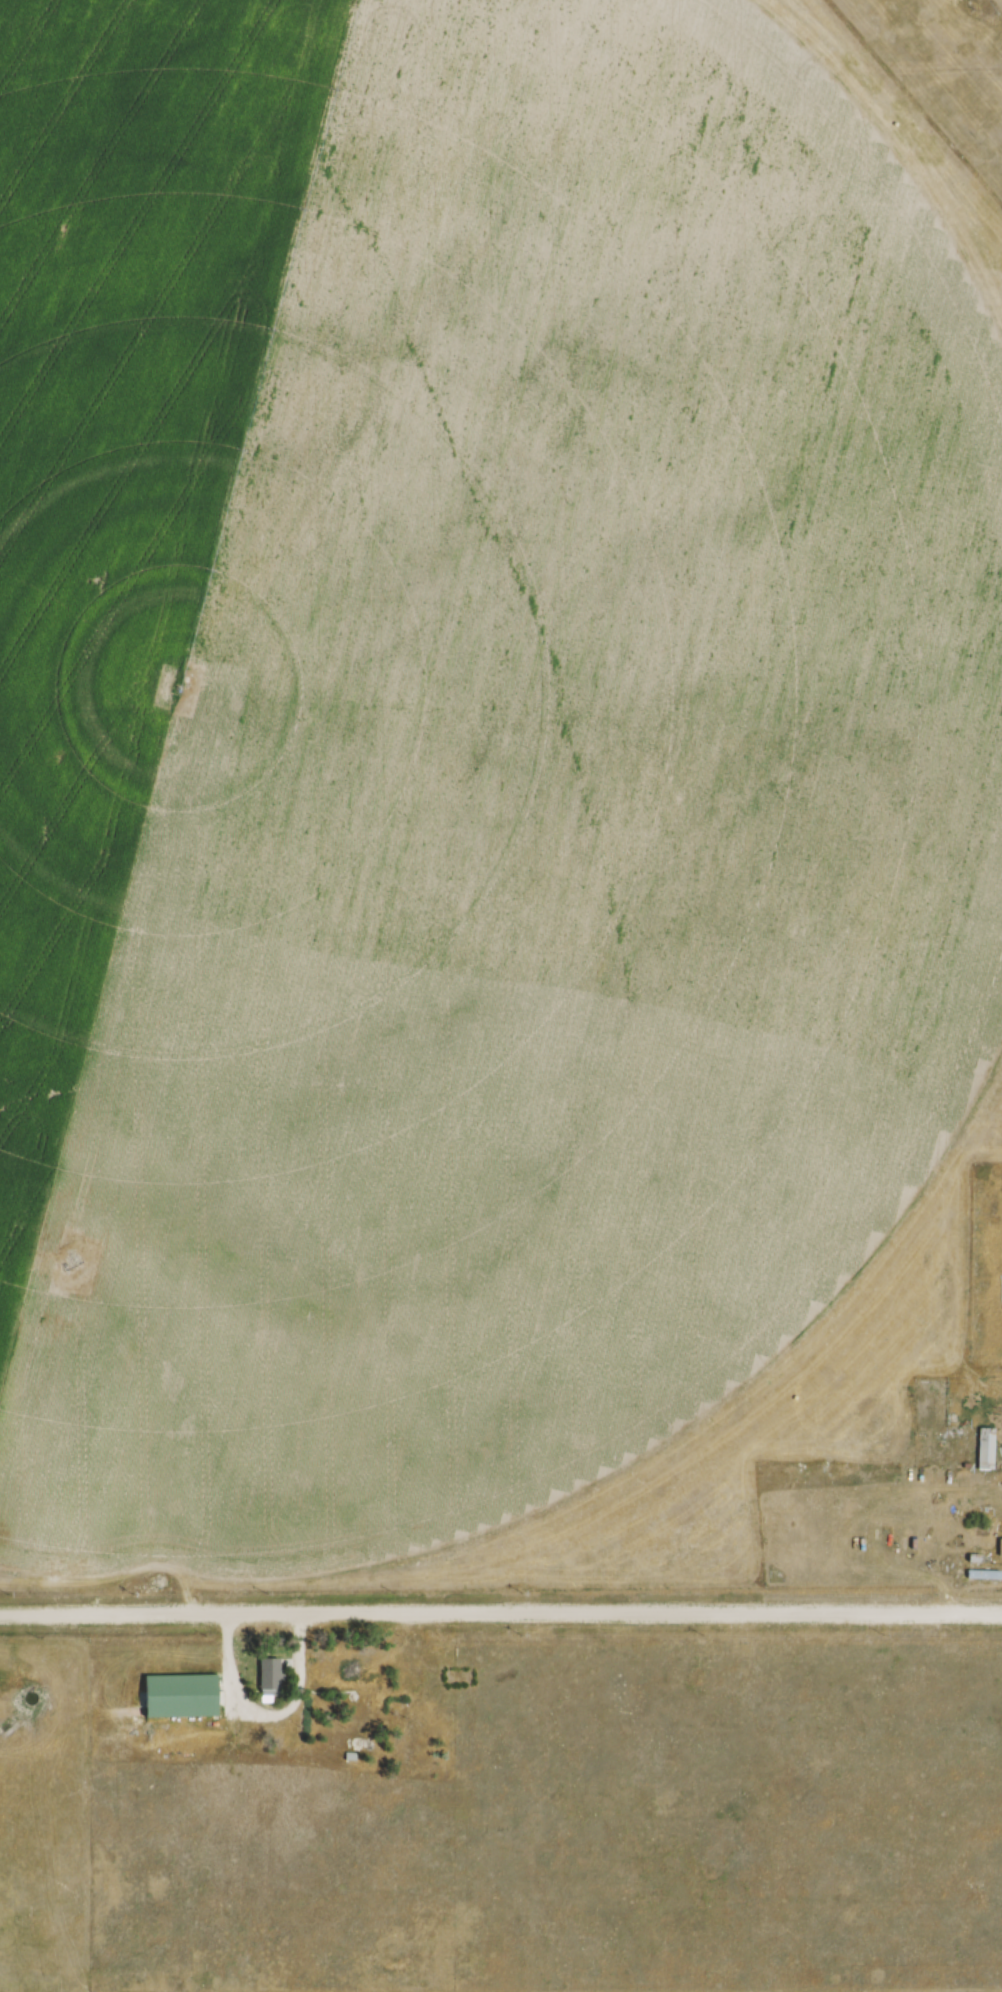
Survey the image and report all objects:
building: (983, 1449)
building: (980, 1575)
road: (501, 1612)
building: (264, 1680)
building: (175, 1696)
building: (348, 1759)

